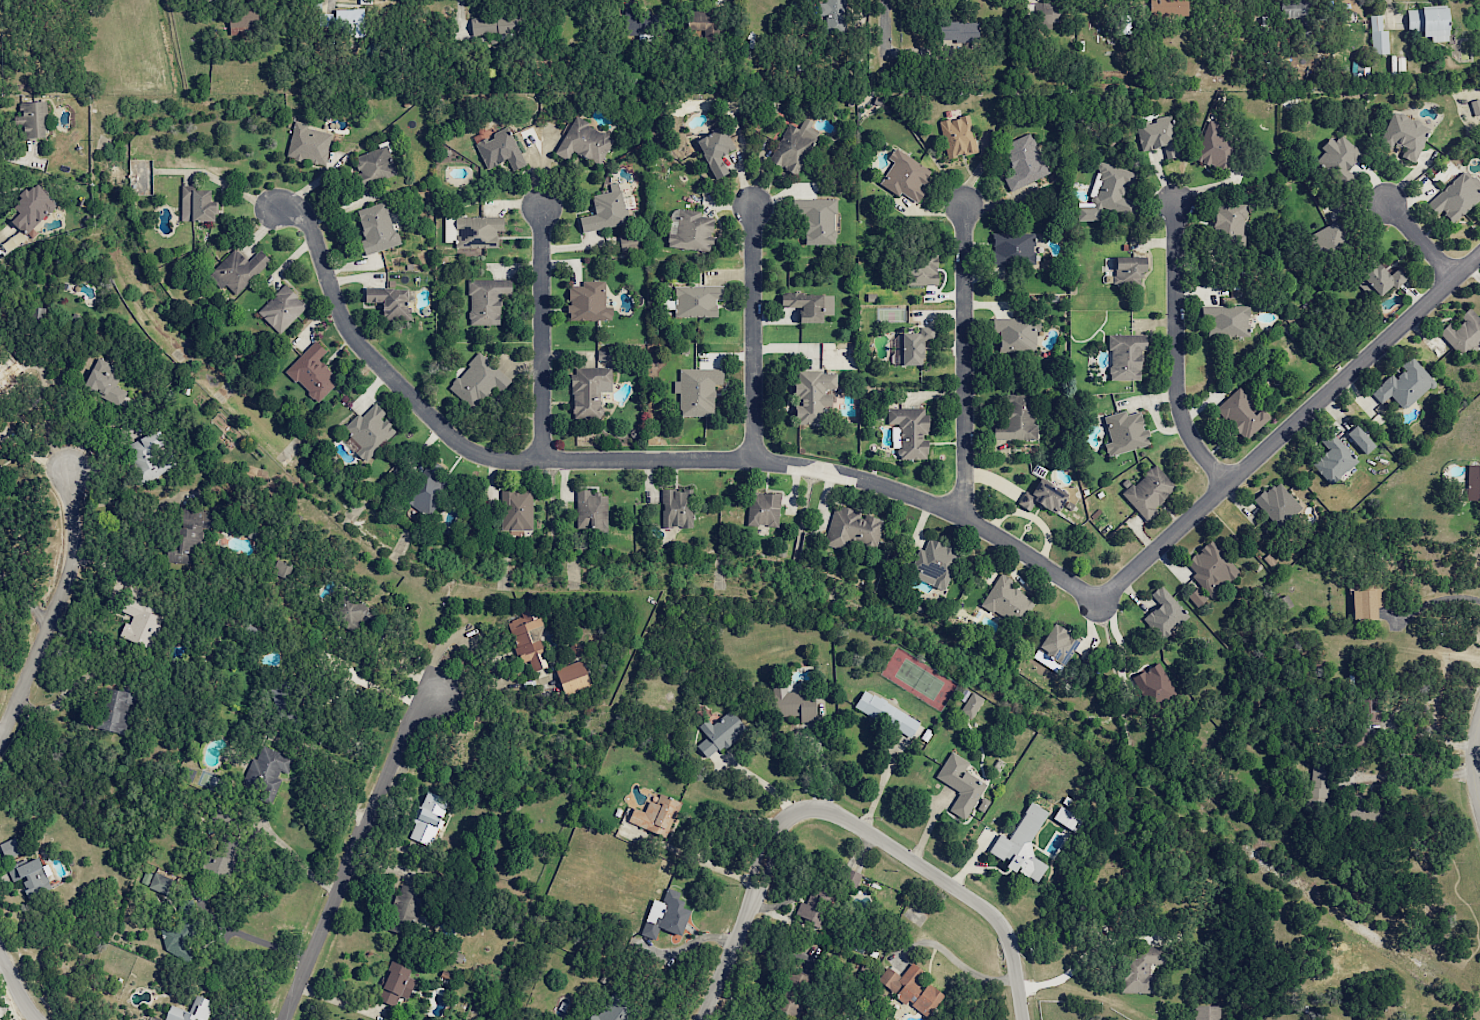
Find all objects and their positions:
building: (1168, 7)
building: (1294, 8)
road: (1390, 11)
building: (1043, 13)
building: (349, 15)
building: (833, 15)
building: (632, 18)
building: (702, 21)
building: (1428, 22)
building: (497, 24)
road: (885, 30)
building: (957, 31)
building: (1378, 36)
building: (1475, 106)
building: (32, 119)
building: (1157, 134)
building: (1403, 135)
building: (959, 136)
building: (1478, 139)
building: (585, 141)
building: (310, 143)
building: (795, 146)
building: (1214, 146)
building: (502, 149)
building: (718, 149)
building: (1341, 160)
building: (1022, 161)
building: (376, 165)
building: (908, 176)
building: (1113, 189)
building: (1454, 198)
building: (199, 204)
building: (32, 207)
building: (608, 211)
building: (819, 218)
building: (1226, 225)
building: (378, 228)
building: (694, 230)
building: (480, 231)
building: (1330, 236)
road: (1421, 240)
building: (13, 241)
building: (631, 241)
building: (1012, 248)
building: (241, 268)
building: (923, 269)
building: (1128, 269)
building: (1379, 277)
building: (489, 299)
building: (700, 300)
building: (392, 301)
building: (591, 301)
building: (809, 304)
building: (284, 308)
building: (1226, 320)
road: (754, 333)
building: (1462, 333)
road: (542, 334)
building: (1013, 334)
building: (918, 346)
road: (1175, 351)
building: (1125, 355)
road: (964, 363)
building: (314, 372)
building: (10, 375)
building: (480, 380)
building: (107, 382)
building: (1403, 384)
building: (590, 389)
building: (699, 390)
building: (814, 395)
building: (1240, 414)
building: (1015, 418)
road: (1289, 428)
building: (371, 430)
building: (913, 430)
building: (1123, 432)
building: (1359, 439)
building: (1, 444)
building: (150, 456)
building: (1332, 457)
road: (638, 460)
building: (1473, 484)
building: (430, 488)
building: (1148, 491)
building: (1041, 496)
building: (1275, 503)
building: (675, 508)
building: (518, 509)
building: (763, 509)
building: (593, 511)
building: (850, 528)
building: (191, 536)
building: (934, 562)
building: (1210, 567)
building: (281, 568)
building: (1196, 596)
building: (1005, 600)
road: (1430, 601)
building: (1366, 602)
road: (54, 610)
building: (1163, 612)
building: (354, 613)
building: (141, 622)
building: (530, 636)
building: (1056, 644)
building: (578, 647)
building: (576, 677)
road: (367, 684)
building: (1154, 686)
building: (285, 694)
building: (795, 701)
building: (971, 704)
building: (115, 708)
building: (889, 712)
building: (1360, 714)
building: (721, 733)
road: (1422, 743)
building: (474, 750)
road: (1474, 761)
building: (268, 770)
building: (186, 774)
road: (1411, 775)
building: (1318, 778)
road: (759, 780)
road: (337, 781)
road: (879, 783)
building: (958, 783)
road: (1479, 797)
building: (431, 814)
building: (658, 814)
building: (1362, 814)
building: (1060, 816)
building: (1018, 841)
building: (10, 847)
road: (288, 849)
road: (354, 852)
building: (226, 858)
road: (712, 866)
building: (30, 875)
building: (853, 877)
building: (146, 878)
road: (941, 879)
building: (164, 883)
building: (818, 902)
building: (409, 907)
building: (671, 915)
road: (744, 917)
building: (184, 930)
road: (258, 941)
road: (1086, 957)
road: (960, 963)
building: (1137, 967)
building: (397, 982)
road: (16, 985)
building: (913, 987)
building: (793, 992)
building: (192, 1010)
building: (617, 1010)
building: (1204, 1012)

